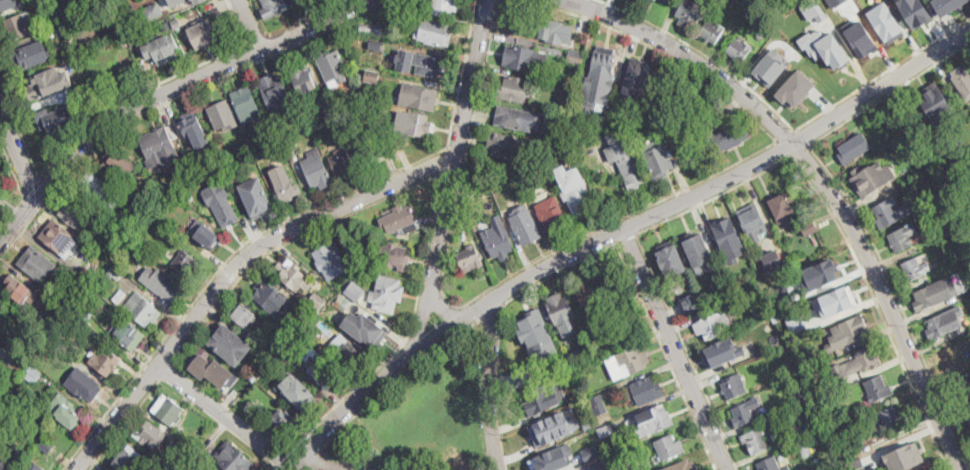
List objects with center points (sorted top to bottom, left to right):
building: (121, 0)
building: (296, 0)
building: (196, 1)
building: (293, 1)
building: (669, 1)
building: (176, 2)
building: (11, 4)
building: (948, 5)
building: (410, 6)
building: (274, 8)
building: (443, 8)
building: (813, 9)
building: (153, 10)
building: (915, 11)
building: (691, 12)
road: (260, 17)
road: (307, 17)
building: (885, 21)
building: (178, 23)
road: (249, 24)
building: (19, 26)
building: (536, 26)
building: (168, 27)
building: (66, 29)
building: (375, 29)
building: (713, 31)
building: (433, 32)
building: (205, 34)
road: (257, 38)
building: (122, 42)
road: (272, 44)
building: (376, 45)
building: (163, 46)
building: (824, 47)
building: (739, 50)
road: (251, 53)
building: (31, 56)
building: (575, 57)
building: (522, 58)
building: (391, 63)
building: (420, 63)
building: (771, 65)
building: (603, 66)
building: (332, 67)
building: (360, 69)
building: (372, 75)
building: (636, 76)
building: (303, 78)
road: (192, 80)
building: (962, 81)
building: (46, 82)
road: (155, 86)
road: (880, 86)
building: (796, 88)
building: (515, 89)
building: (276, 93)
road: (172, 97)
building: (418, 97)
building: (313, 103)
building: (938, 103)
building: (246, 105)
building: (610, 107)
building: (644, 112)
building: (222, 116)
building: (514, 118)
building: (56, 119)
road: (785, 120)
building: (415, 123)
building: (315, 126)
road: (19, 128)
building: (194, 128)
building: (265, 133)
building: (961, 134)
road: (785, 135)
building: (732, 136)
road: (801, 138)
building: (892, 138)
building: (291, 143)
building: (566, 143)
road: (459, 145)
building: (501, 145)
building: (159, 146)
building: (854, 147)
building: (371, 148)
road: (784, 148)
road: (18, 151)
road: (799, 151)
building: (261, 155)
building: (215, 156)
building: (658, 160)
building: (249, 161)
building: (342, 161)
road: (446, 161)
building: (118, 163)
building: (521, 165)
road: (12, 168)
building: (316, 168)
building: (631, 169)
road: (440, 173)
road: (758, 175)
building: (871, 177)
building: (494, 178)
building: (480, 181)
road: (822, 181)
building: (284, 182)
building: (100, 190)
road: (35, 191)
building: (575, 192)
building: (257, 196)
building: (1, 197)
building: (147, 202)
building: (784, 207)
building: (224, 208)
road: (857, 210)
building: (77, 214)
building: (552, 214)
building: (885, 216)
road: (12, 217)
building: (752, 218)
building: (399, 219)
road: (19, 222)
road: (279, 222)
building: (151, 225)
building: (525, 227)
road: (600, 228)
building: (809, 228)
building: (205, 235)
building: (725, 236)
building: (59, 238)
road: (628, 238)
building: (497, 239)
building: (900, 240)
building: (697, 248)
building: (393, 256)
building: (329, 258)
building: (470, 259)
building: (671, 259)
building: (773, 259)
building: (184, 263)
building: (38, 264)
building: (749, 265)
building: (915, 269)
road: (233, 270)
building: (829, 271)
building: (114, 273)
building: (294, 275)
building: (698, 275)
building: (88, 276)
road: (525, 280)
building: (163, 283)
building: (614, 283)
building: (727, 289)
building: (20, 290)
building: (355, 291)
building: (935, 291)
building: (387, 293)
building: (267, 294)
building: (800, 294)
building: (120, 296)
road: (642, 296)
building: (588, 299)
building: (317, 300)
building: (735, 300)
building: (836, 300)
building: (711, 301)
building: (692, 302)
building: (343, 303)
road: (444, 308)
building: (757, 308)
building: (83, 309)
building: (562, 310)
building: (145, 311)
building: (307, 312)
road: (493, 314)
building: (244, 315)
building: (775, 318)
road: (427, 320)
building: (946, 321)
building: (532, 324)
building: (799, 324)
building: (714, 325)
building: (632, 329)
building: (368, 331)
building: (848, 331)
building: (616, 335)
building: (128, 336)
building: (229, 343)
building: (55, 348)
road: (673, 350)
building: (721, 353)
building: (789, 353)
building: (349, 355)
building: (948, 355)
building: (524, 356)
building: (570, 360)
building: (859, 360)
building: (105, 361)
building: (628, 362)
building: (202, 364)
building: (316, 364)
building: (1, 368)
road: (134, 369)
road: (123, 373)
road: (167, 373)
building: (33, 374)
building: (527, 375)
building: (84, 384)
road: (393, 384)
road: (491, 386)
building: (734, 386)
building: (961, 386)
building: (878, 388)
building: (645, 391)
building: (298, 392)
building: (802, 394)
building: (543, 397)
building: (599, 404)
building: (168, 410)
building: (745, 412)
building: (69, 415)
road: (223, 415)
park: (425, 416)
building: (874, 416)
building: (43, 417)
building: (969, 417)
building: (890, 418)
building: (284, 419)
building: (654, 421)
building: (595, 423)
road: (125, 425)
building: (553, 427)
building: (801, 430)
building: (969, 430)
building: (605, 431)
building: (150, 433)
building: (755, 440)
building: (47, 445)
building: (669, 447)
building: (805, 449)
building: (182, 450)
building: (591, 452)
building: (702, 453)
building: (11, 456)
building: (904, 456)
road: (281, 457)
building: (128, 458)
building: (233, 458)
building: (551, 458)
building: (870, 458)
building: (615, 460)
road: (305, 463)
building: (769, 464)
building: (857, 464)
building: (31, 465)
road: (314, 465)
building: (599, 465)
building: (684, 466)
road: (287, 467)
building: (166, 468)
road: (272, 468)
building: (786, 468)
building: (217, 469)
building: (927, 469)

